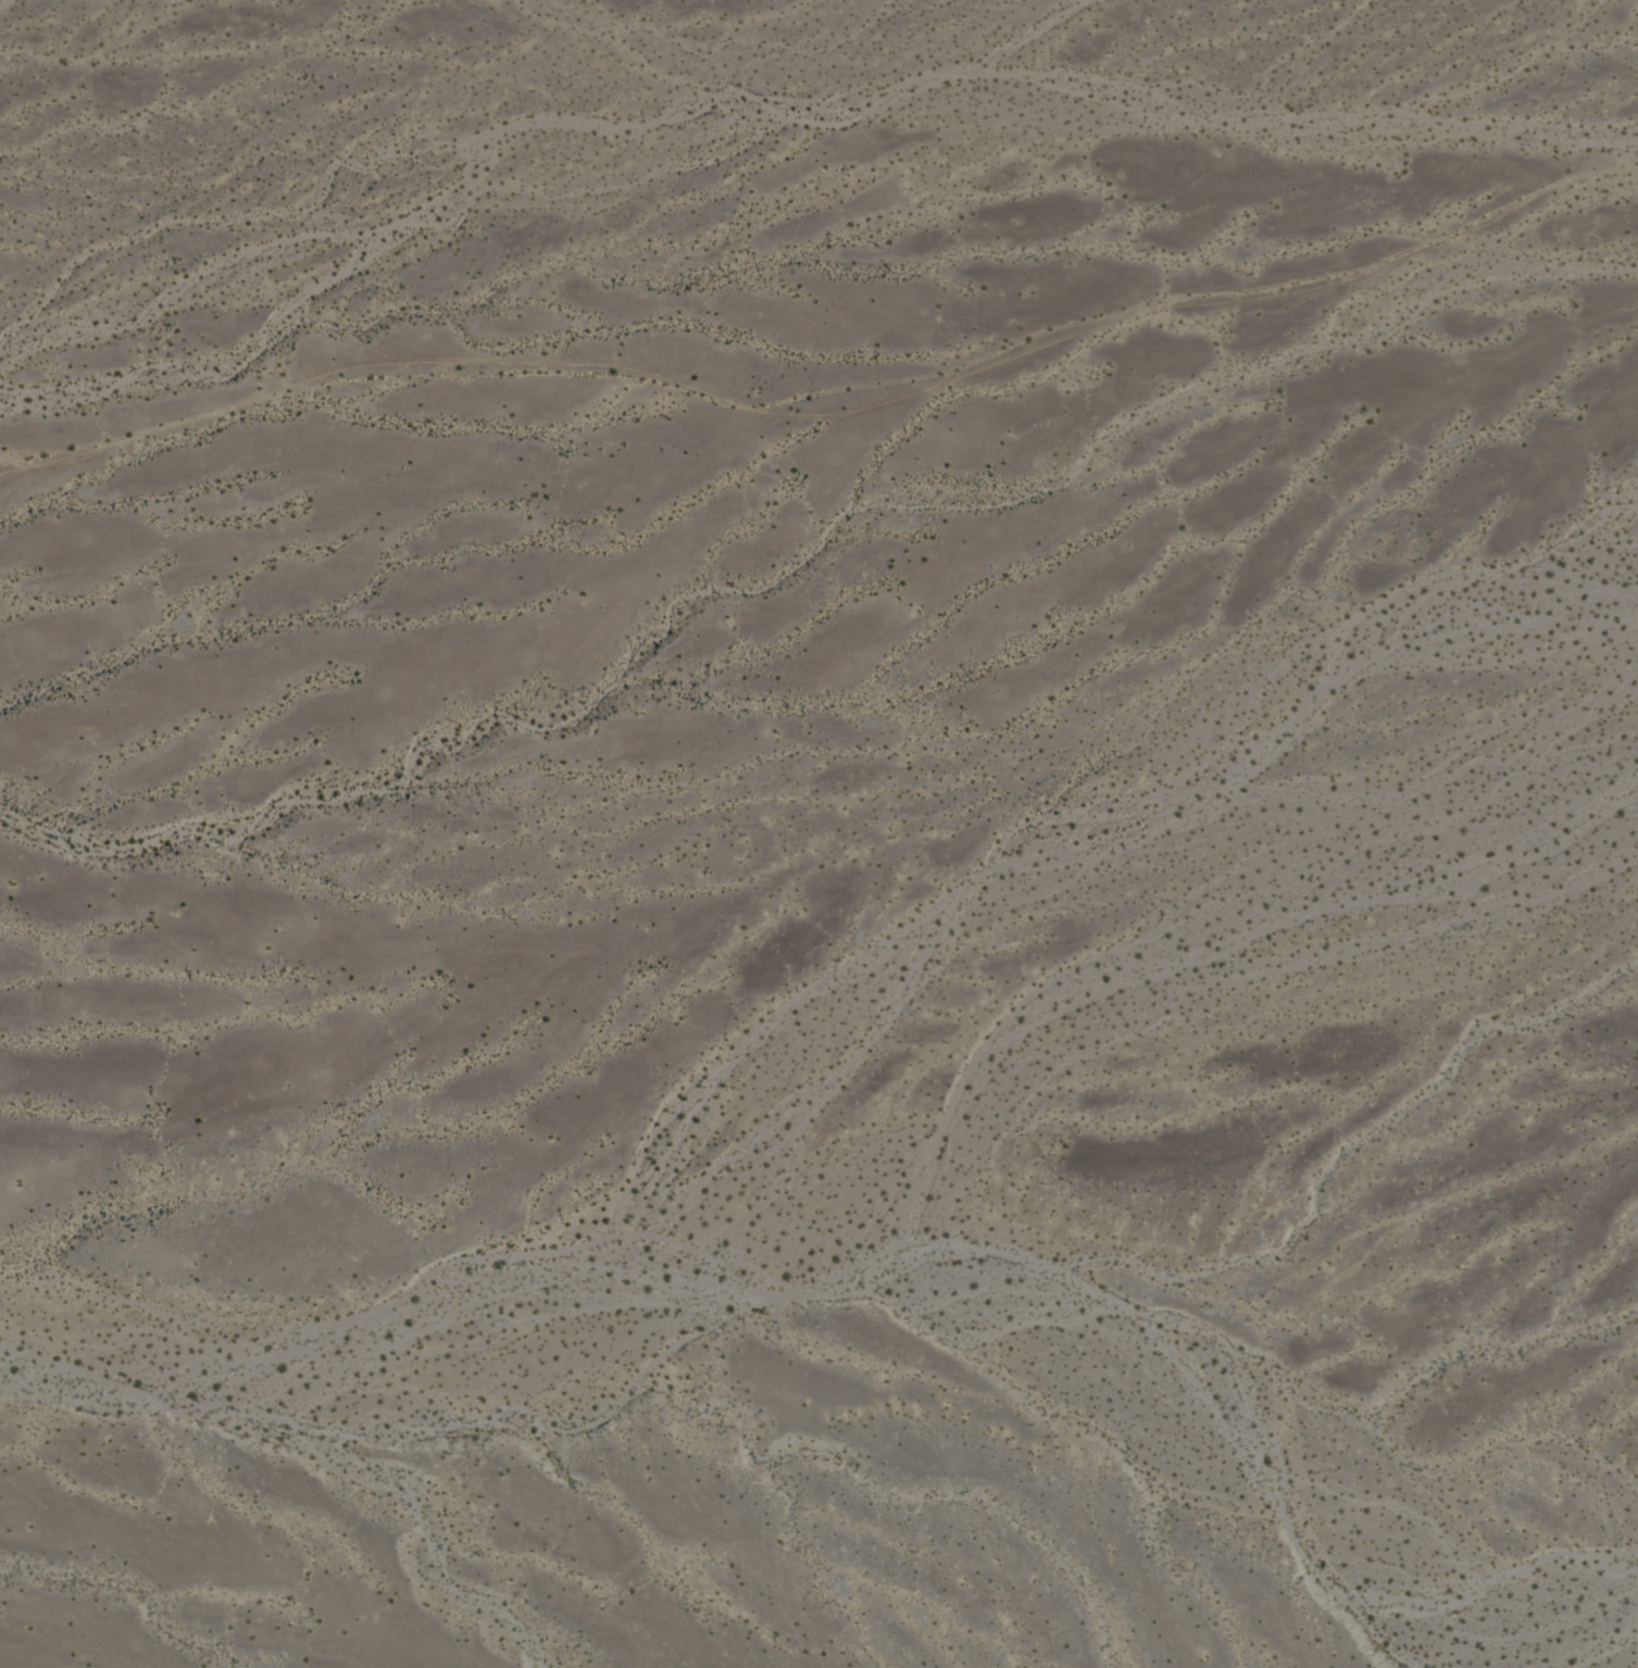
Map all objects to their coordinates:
road: (771, 104)

